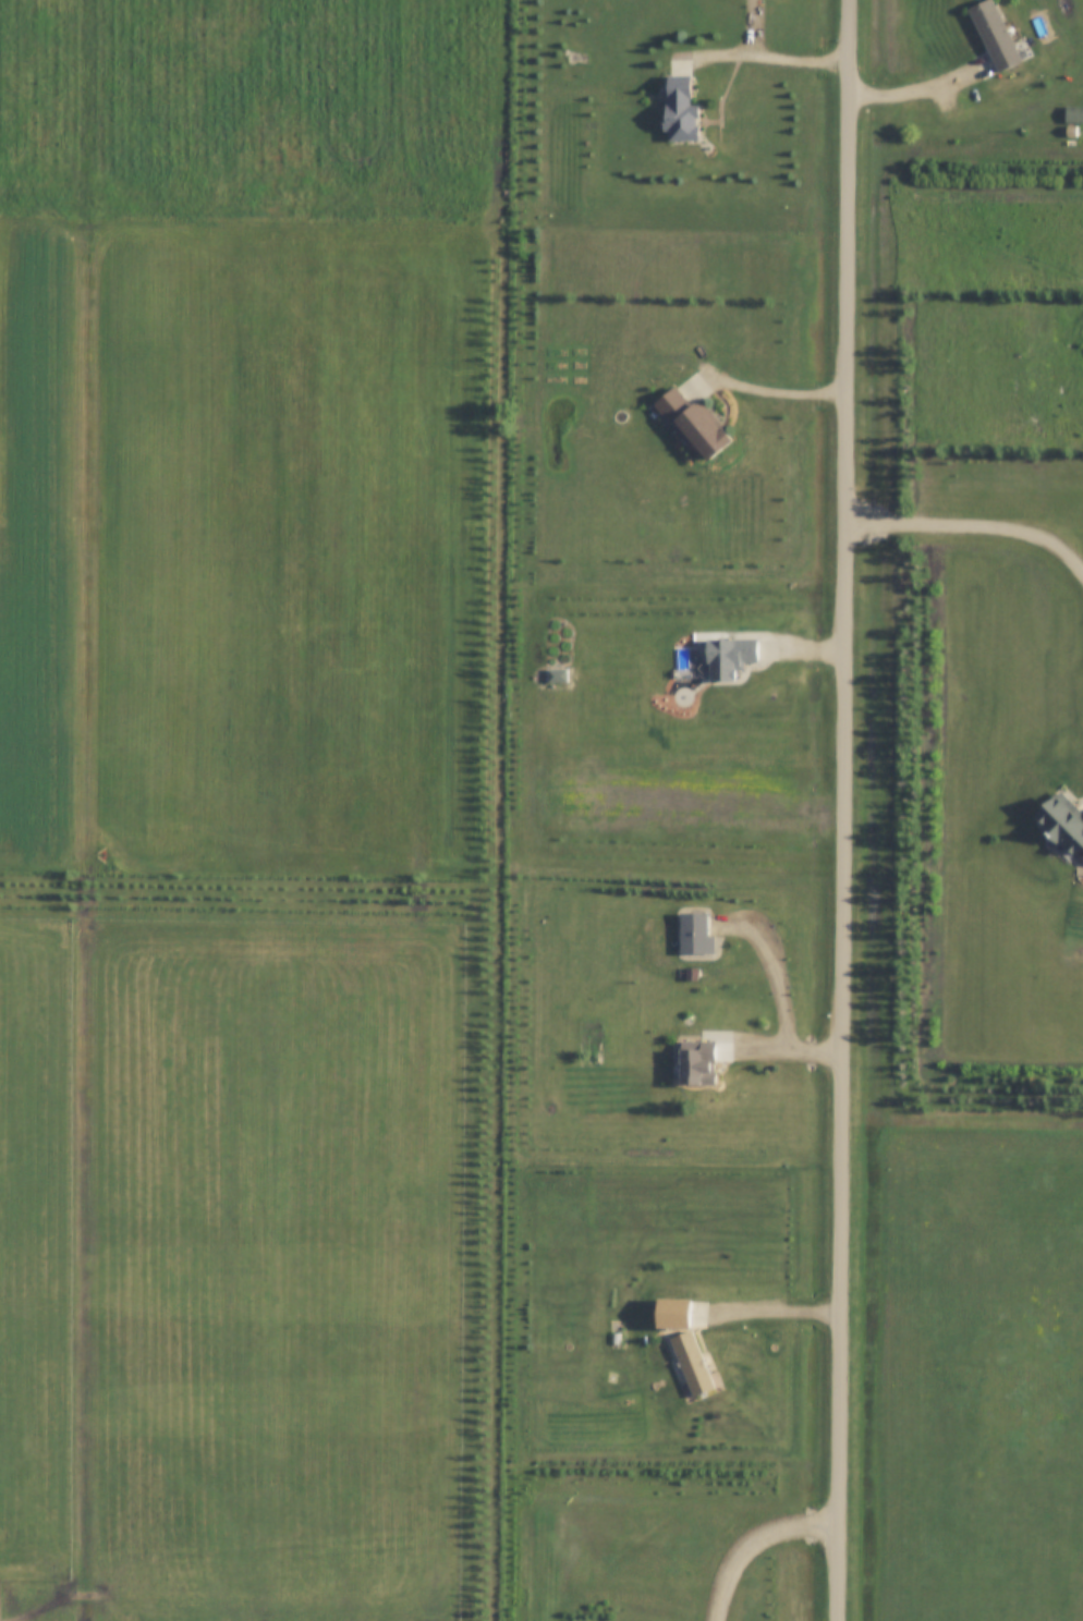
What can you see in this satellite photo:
building: (996, 36)
road: (768, 57)
road: (917, 90)
building: (682, 110)
building: (1013, 112)
road: (772, 391)
building: (694, 423)
road: (974, 524)
building: (731, 656)
road: (848, 809)
building: (1063, 820)
building: (696, 934)
road: (779, 968)
road: (793, 1052)
building: (699, 1067)
road: (779, 1312)
building: (617, 1340)
building: (694, 1363)
road: (756, 1544)

